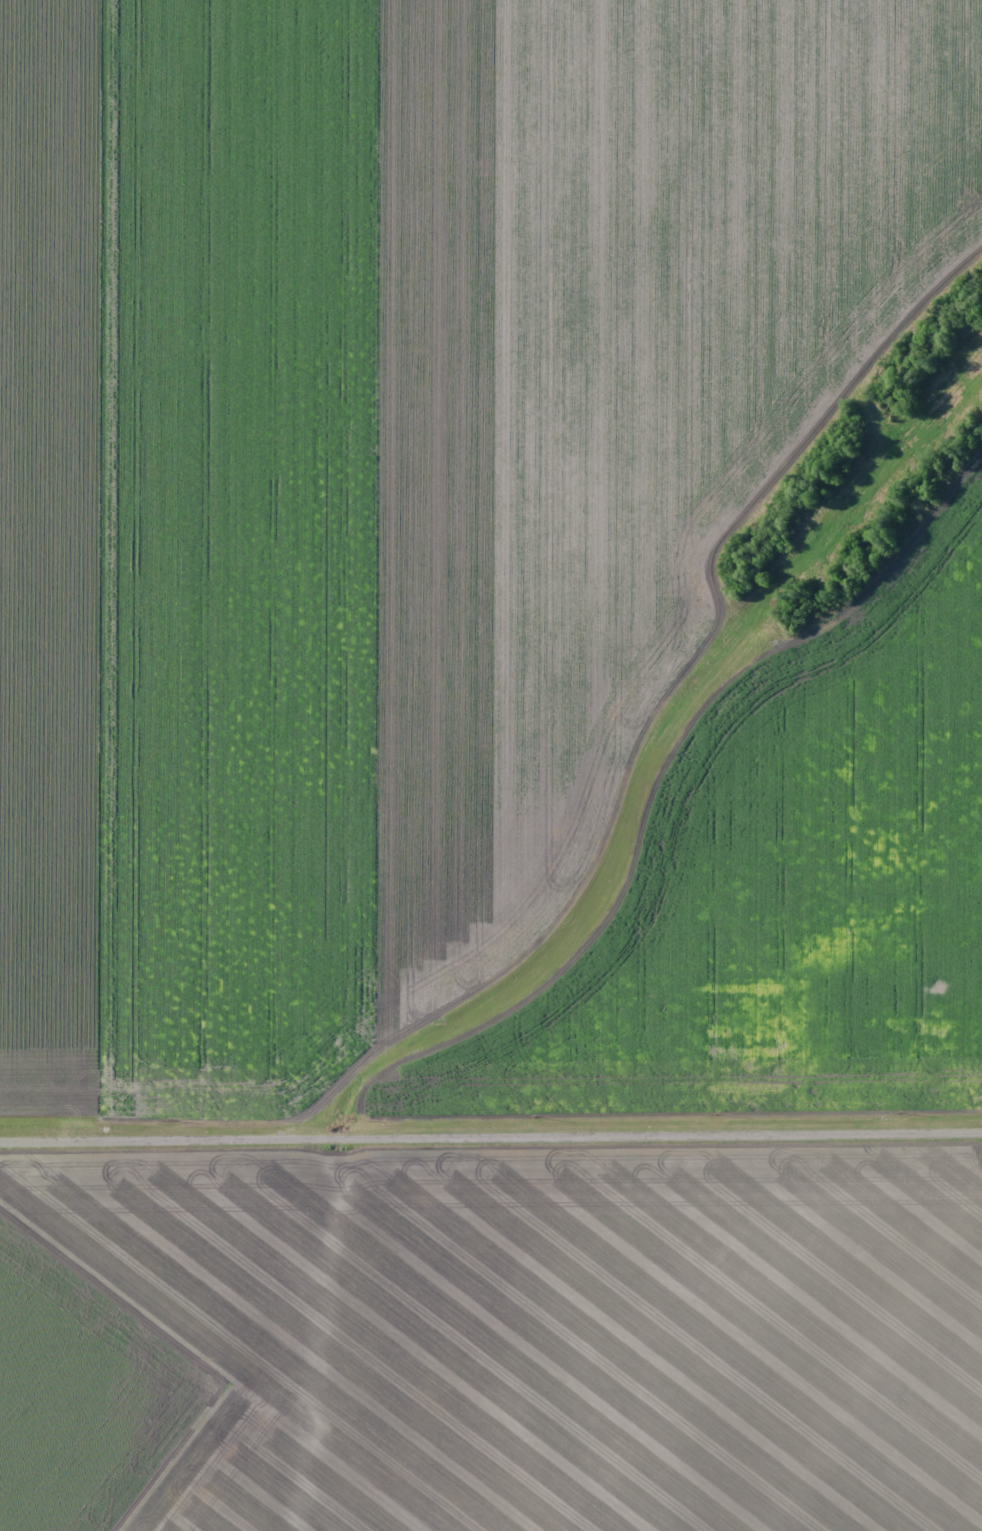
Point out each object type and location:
road: (491, 1127)

